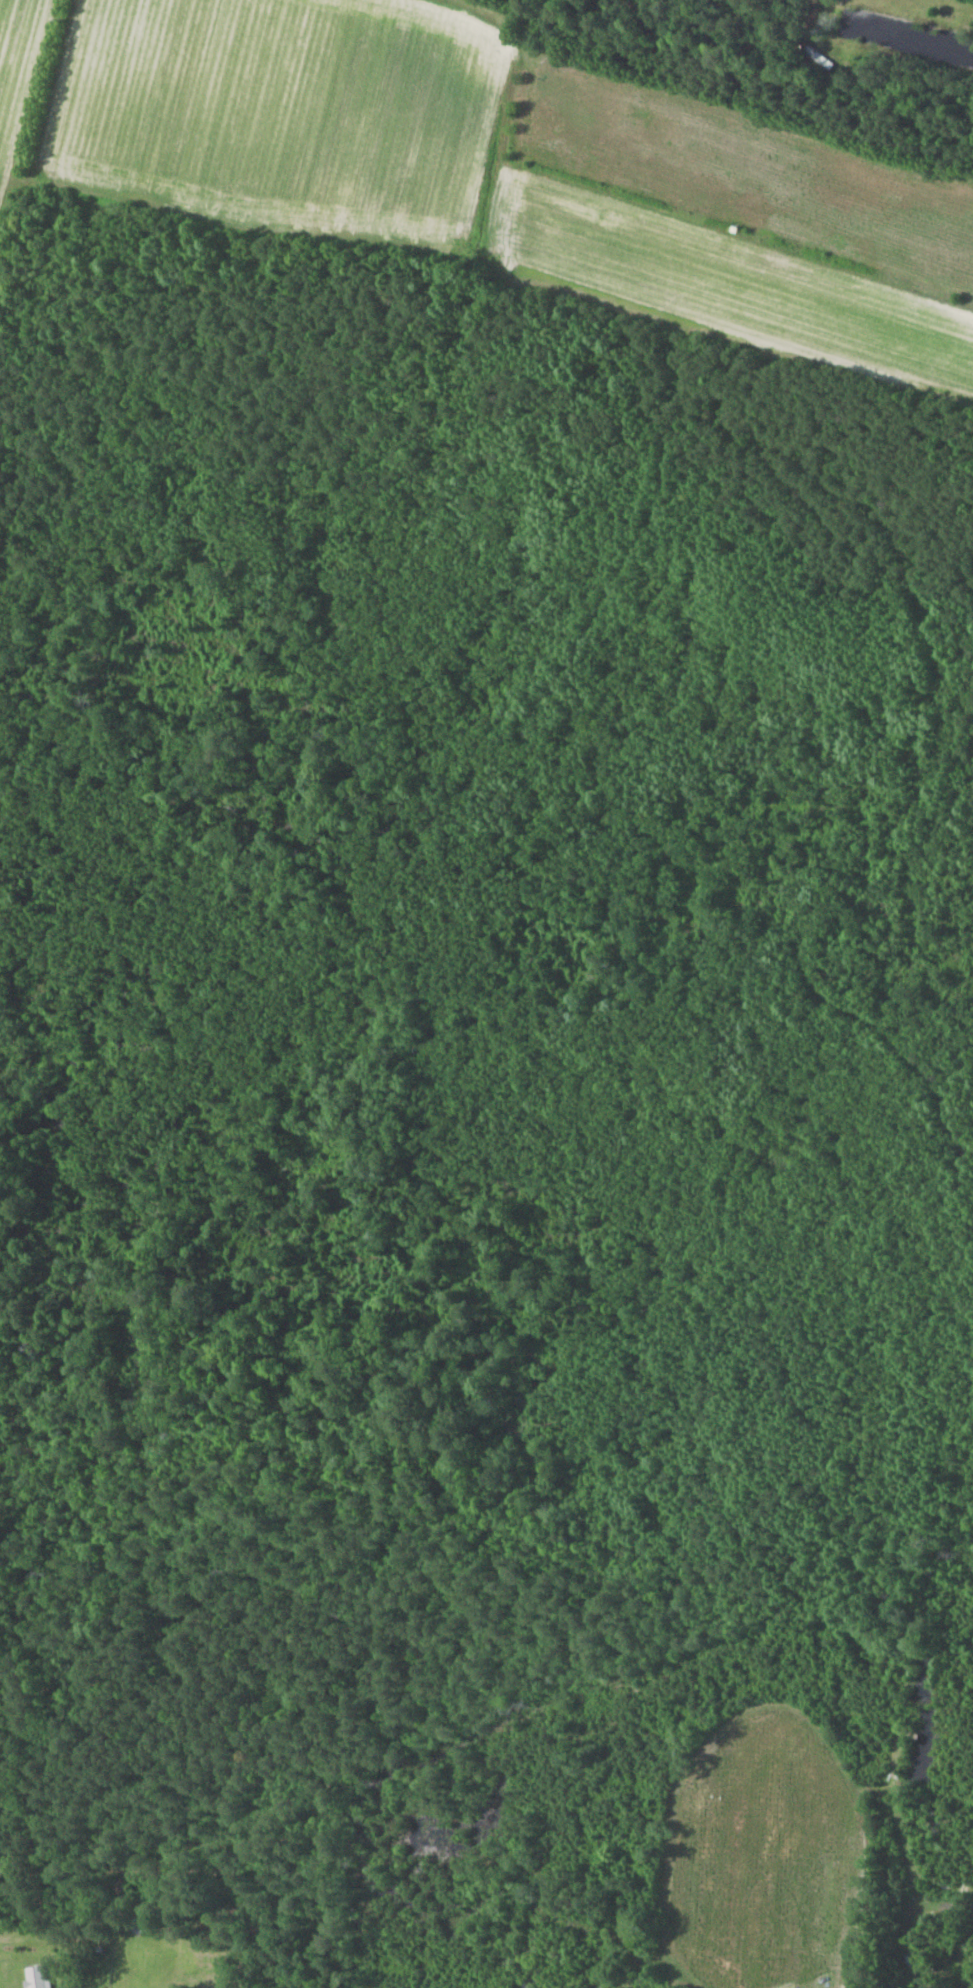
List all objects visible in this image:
building: (41, 1977)

